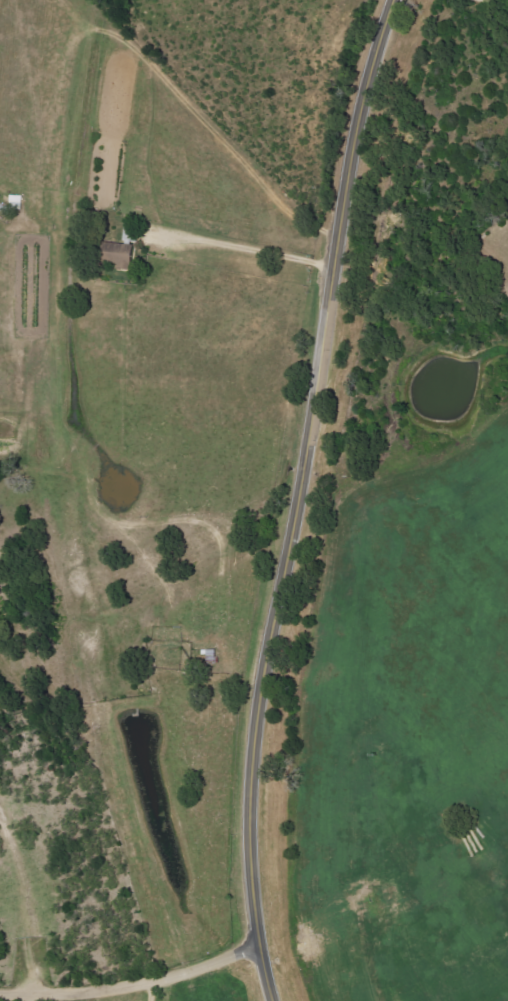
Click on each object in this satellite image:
road: (252, 251)
building: (121, 252)
road: (297, 498)
road: (133, 989)
road: (148, 994)

